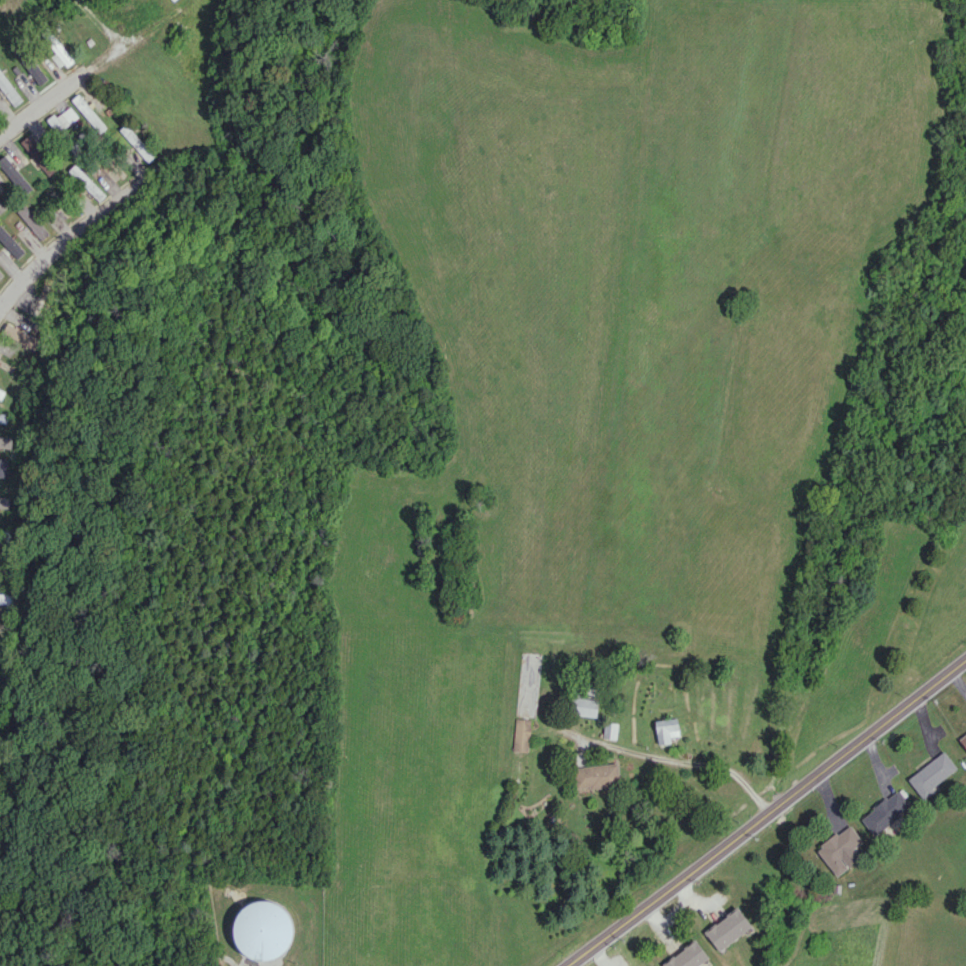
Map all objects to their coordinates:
building: (59, 53)
building: (7, 90)
road: (44, 106)
building: (88, 113)
building: (65, 128)
building: (136, 142)
building: (38, 154)
building: (14, 174)
building: (86, 182)
building: (1, 206)
road: (86, 221)
building: (32, 222)
building: (10, 243)
building: (1, 274)
building: (19, 335)
building: (1, 393)
building: (3, 416)
building: (5, 442)
building: (3, 467)
building: (4, 501)
building: (5, 535)
building: (5, 598)
building: (7, 628)
building: (583, 706)
building: (665, 729)
building: (609, 730)
building: (521, 735)
building: (963, 740)
road: (684, 762)
building: (931, 774)
building: (595, 776)
building: (884, 811)
road: (764, 813)
building: (838, 848)
building: (262, 929)
building: (727, 929)
building: (687, 956)

